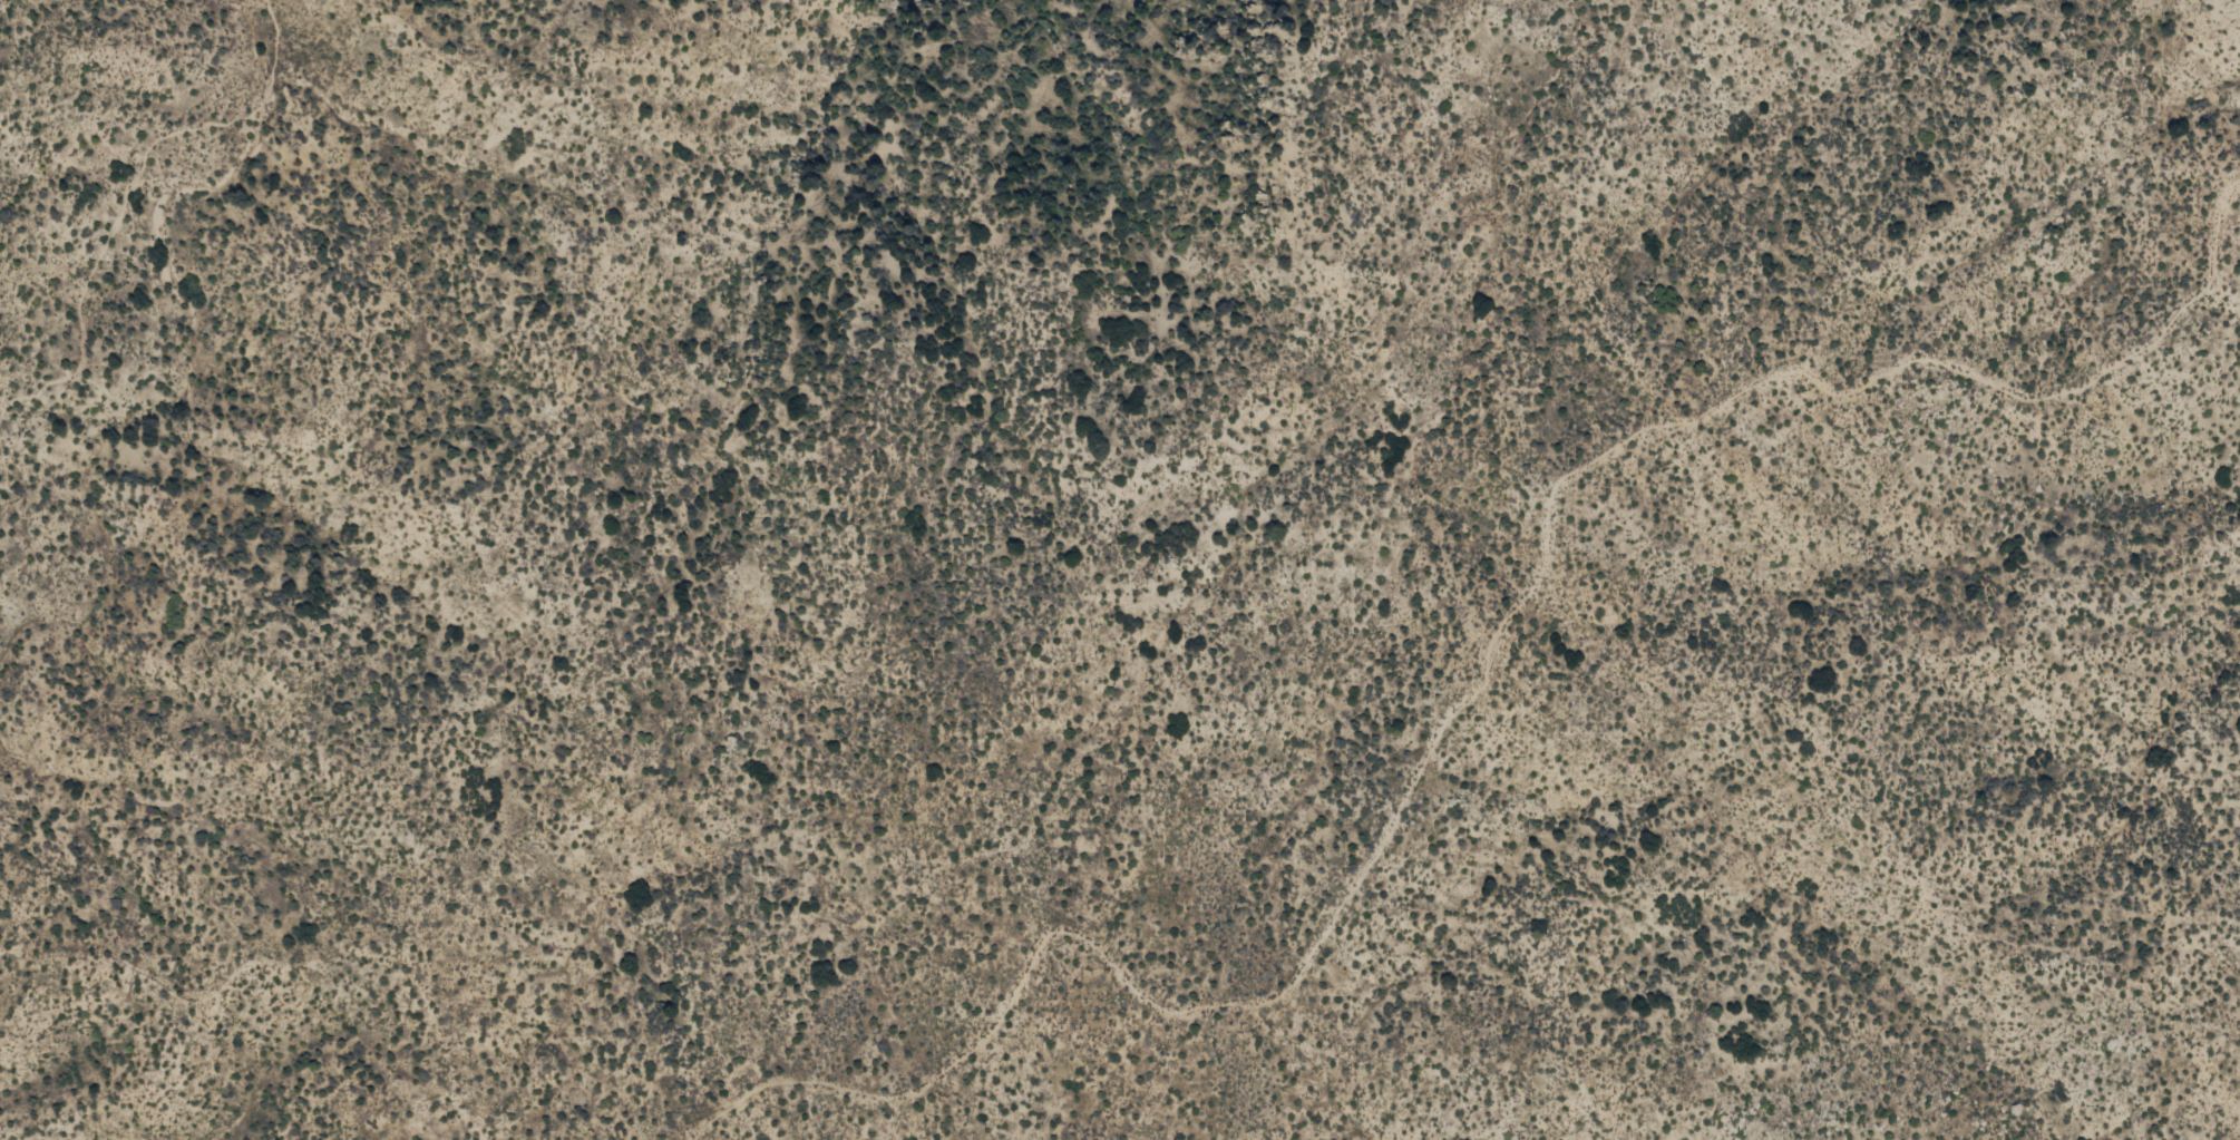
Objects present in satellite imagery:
road: (127, 193)

